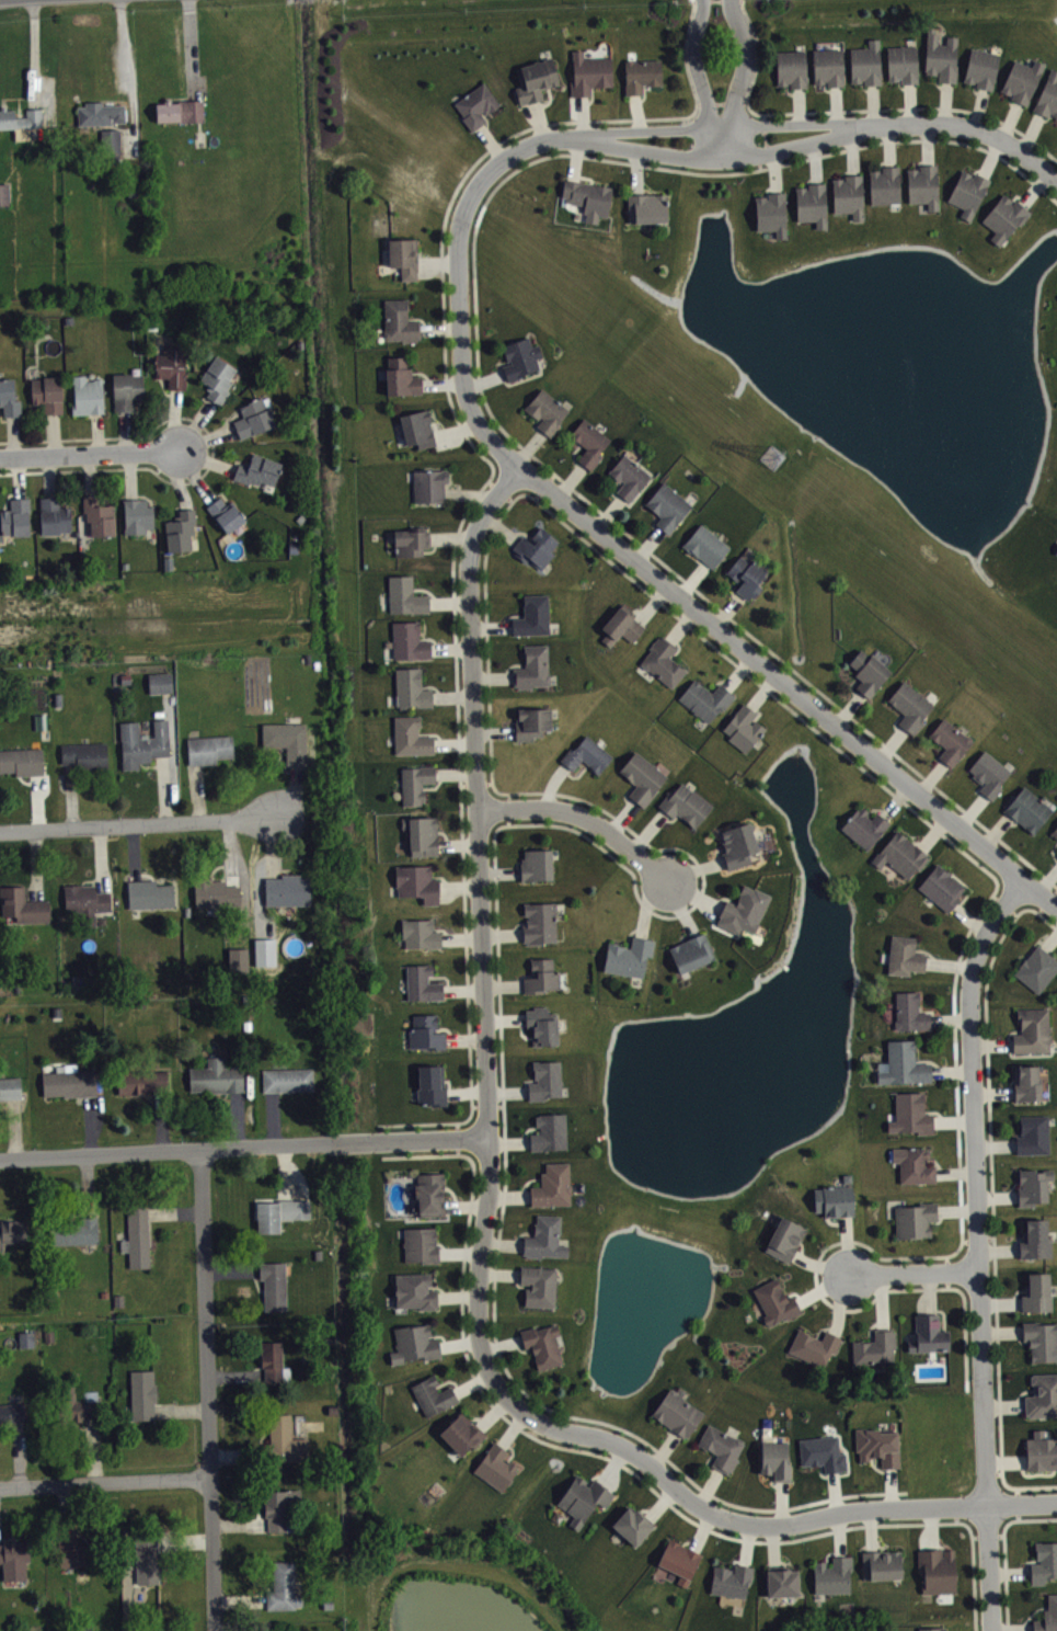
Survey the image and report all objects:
road: (693, 0)
road: (717, 0)
road: (748, 19)
road: (189, 49)
road: (33, 54)
building: (940, 56)
building: (865, 62)
building: (901, 62)
building: (828, 66)
building: (790, 67)
building: (980, 67)
building: (589, 72)
building: (641, 73)
road: (127, 75)
road: (740, 78)
building: (535, 79)
building: (1021, 79)
road: (700, 80)
road: (750, 85)
building: (1047, 95)
building: (476, 105)
road: (918, 105)
building: (180, 110)
building: (99, 112)
building: (20, 122)
road: (796, 125)
road: (978, 129)
road: (648, 130)
road: (766, 138)
building: (108, 144)
road: (804, 144)
road: (655, 151)
road: (760, 166)
road: (685, 170)
building: (884, 184)
building: (922, 185)
building: (967, 191)
building: (848, 194)
building: (588, 197)
building: (5, 198)
building: (811, 203)
building: (647, 206)
building: (770, 213)
building: (1003, 217)
building: (404, 255)
road: (459, 273)
building: (400, 321)
building: (520, 357)
building: (172, 365)
building: (401, 377)
building: (218, 378)
building: (127, 389)
building: (47, 392)
building: (88, 395)
building: (9, 397)
building: (545, 410)
building: (254, 417)
building: (417, 427)
building: (589, 441)
road: (212, 447)
road: (93, 456)
power tower: (774, 463)
building: (260, 470)
building: (628, 476)
building: (429, 484)
road: (472, 501)
building: (667, 505)
building: (226, 513)
building: (54, 515)
building: (137, 515)
building: (16, 516)
building: (100, 516)
building: (181, 529)
building: (411, 540)
building: (705, 544)
building: (536, 547)
building: (1056, 549)
building: (746, 575)
building: (405, 595)
building: (532, 615)
building: (621, 625)
road: (756, 639)
building: (410, 640)
building: (663, 661)
building: (532, 666)
building: (868, 671)
road: (489, 675)
building: (160, 682)
road: (791, 687)
building: (411, 688)
building: (705, 698)
building: (909, 705)
building: (531, 722)
building: (744, 727)
building: (411, 735)
building: (287, 738)
building: (950, 741)
building: (142, 742)
building: (209, 748)
building: (586, 754)
building: (85, 755)
building: (22, 761)
building: (988, 773)
building: (642, 777)
building: (415, 782)
road: (478, 796)
building: (685, 805)
building: (1027, 809)
road: (582, 820)
road: (139, 821)
building: (863, 826)
building: (1055, 831)
building: (422, 833)
building: (1056, 836)
building: (737, 844)
building: (900, 853)
building: (536, 864)
building: (417, 882)
building: (941, 886)
building: (288, 889)
building: (216, 892)
building: (150, 893)
building: (87, 901)
building: (23, 904)
building: (744, 910)
building: (540, 922)
building: (421, 932)
building: (691, 951)
building: (904, 955)
building: (628, 956)
building: (1036, 968)
building: (541, 976)
building: (422, 983)
building: (909, 1011)
building: (541, 1025)
building: (1032, 1029)
building: (425, 1031)
building: (903, 1063)
building: (216, 1076)
building: (288, 1079)
building: (139, 1080)
building: (544, 1080)
building: (69, 1081)
building: (1026, 1082)
building: (432, 1085)
building: (10, 1087)
building: (910, 1114)
building: (1032, 1133)
building: (553, 1138)
road: (243, 1145)
building: (915, 1164)
building: (1033, 1185)
building: (556, 1190)
building: (429, 1193)
road: (992, 1197)
building: (834, 1199)
building: (279, 1212)
building: (915, 1219)
building: (73, 1229)
building: (13, 1231)
building: (137, 1236)
building: (784, 1237)
building: (1035, 1239)
building: (549, 1243)
building: (421, 1244)
road: (981, 1248)
road: (917, 1276)
building: (274, 1285)
building: (415, 1290)
building: (542, 1290)
building: (1036, 1292)
building: (774, 1301)
building: (928, 1333)
building: (1041, 1339)
building: (414, 1343)
building: (30, 1344)
building: (814, 1346)
building: (874, 1348)
building: (547, 1349)
building: (273, 1361)
road: (207, 1390)
building: (143, 1392)
building: (433, 1394)
building: (1042, 1395)
building: (77, 1404)
building: (11, 1412)
building: (677, 1413)
building: (461, 1433)
building: (283, 1441)
building: (877, 1445)
building: (721, 1447)
building: (1041, 1450)
building: (822, 1452)
building: (774, 1460)
road: (617, 1461)
building: (495, 1465)
road: (650, 1465)
road: (105, 1481)
building: (582, 1497)
building: (280, 1506)
building: (632, 1524)
road: (1004, 1551)
building: (81, 1552)
building: (14, 1559)
building: (148, 1559)
building: (679, 1560)
building: (1044, 1561)
building: (882, 1563)
building: (937, 1570)
building: (832, 1574)
building: (731, 1579)
building: (781, 1579)
building: (284, 1587)
building: (1047, 1616)
building: (931, 1629)

